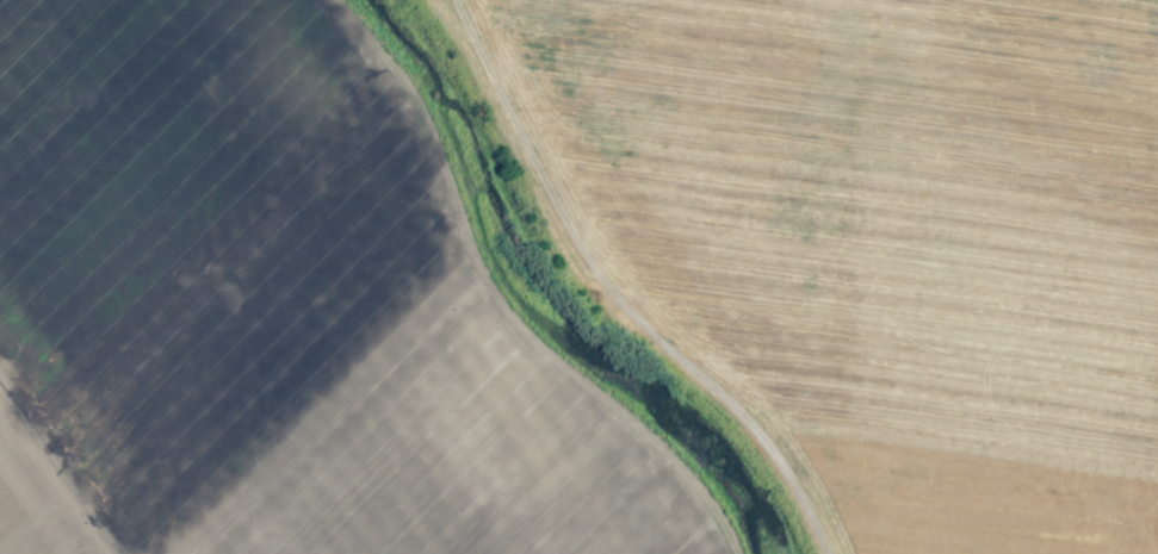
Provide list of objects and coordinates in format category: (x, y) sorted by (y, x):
crop: (868, 243)

